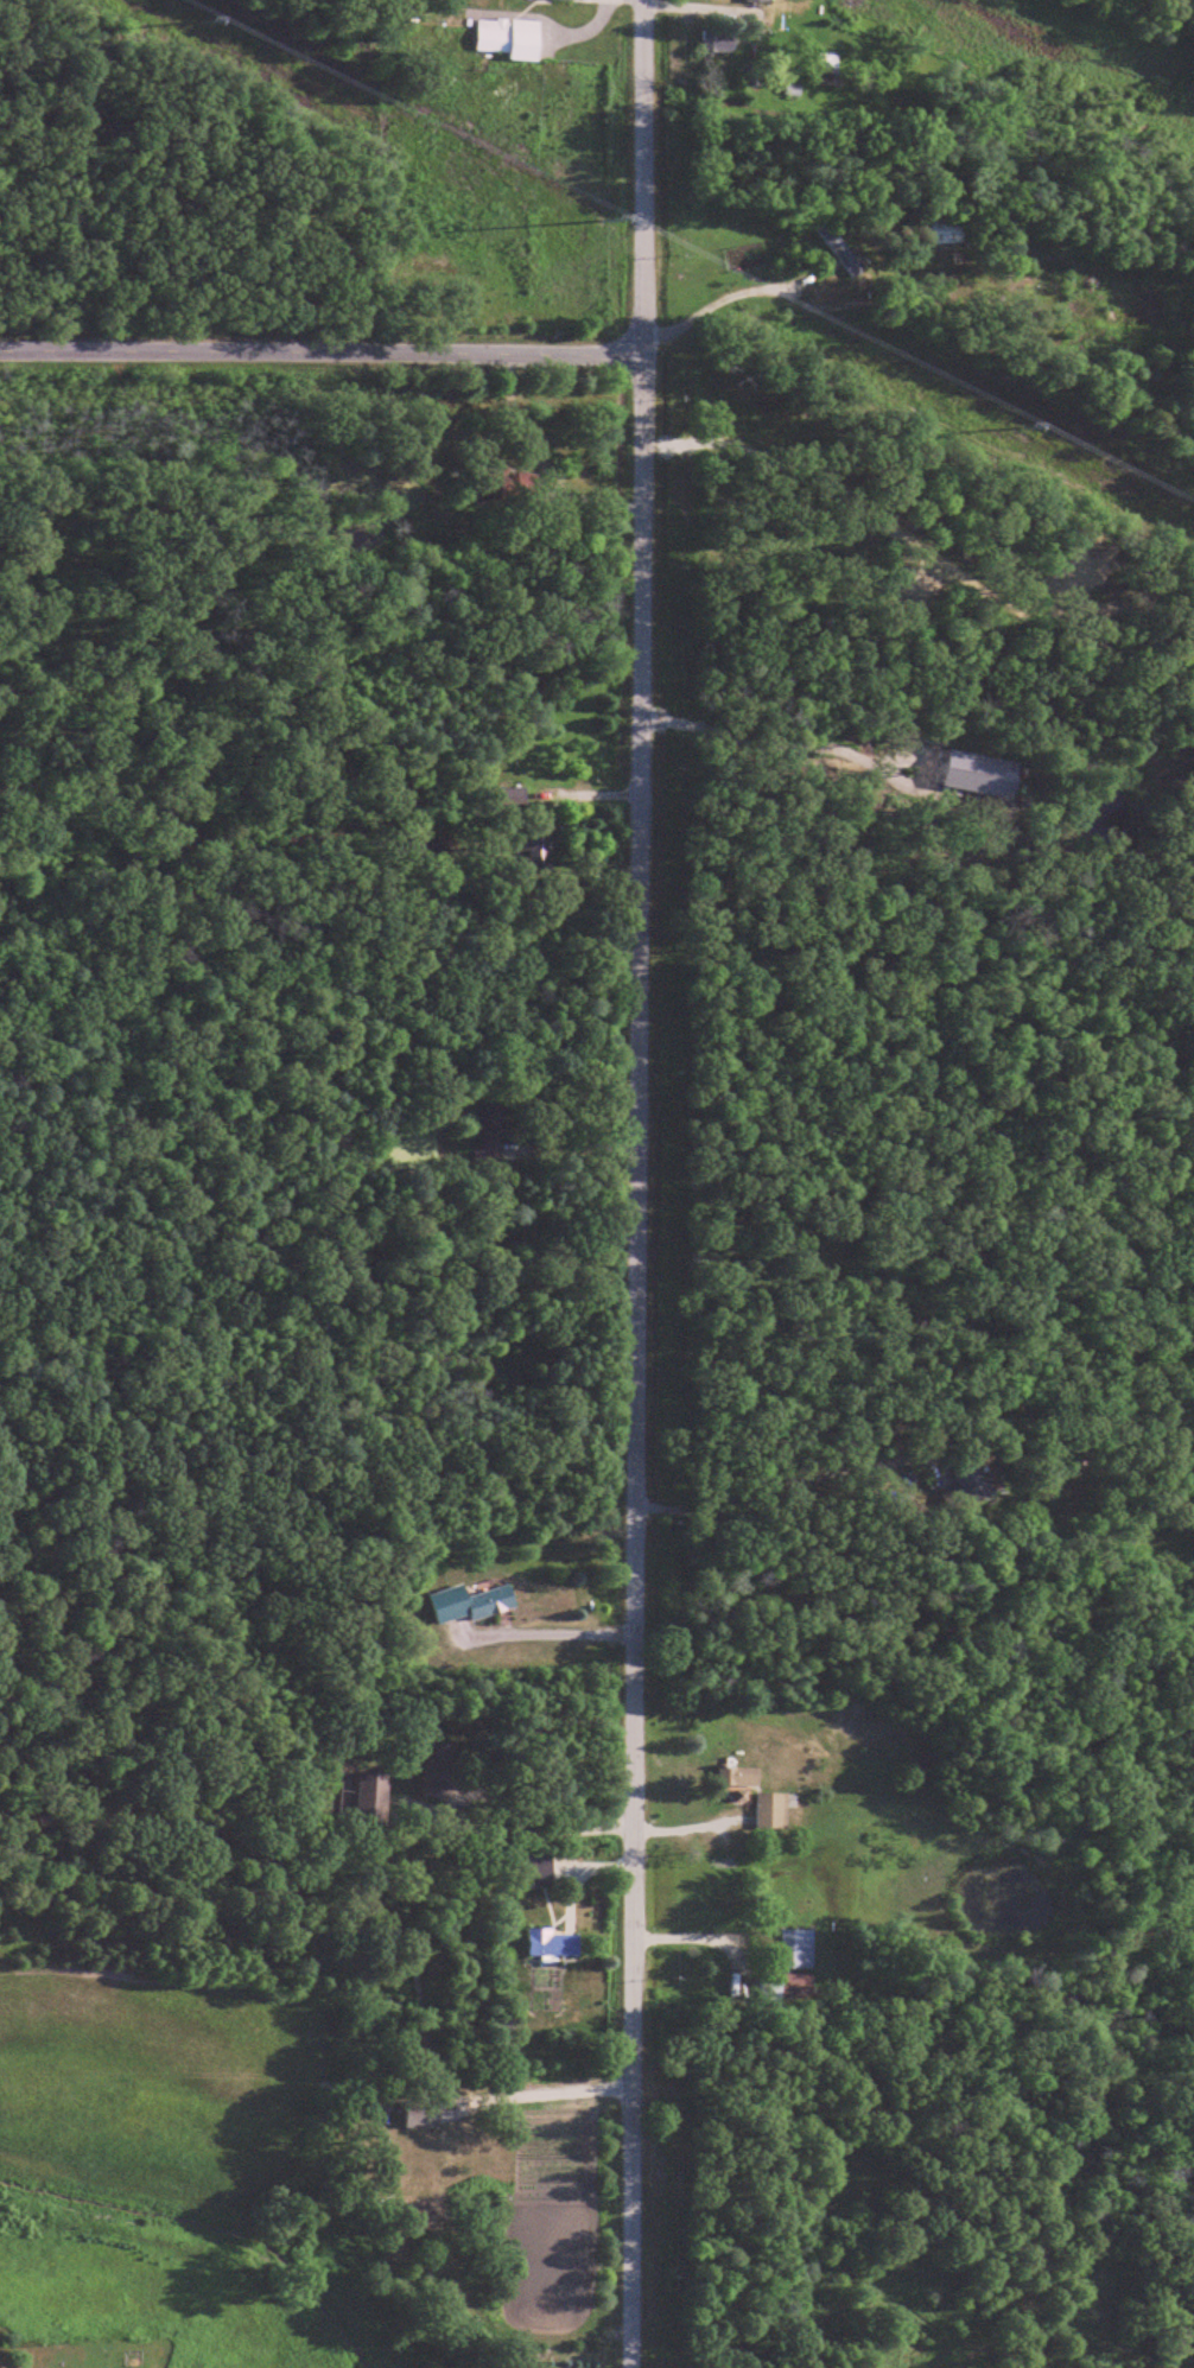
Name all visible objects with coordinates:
building: (760, 1)
power tower: (202, 13)
building: (510, 39)
building: (719, 44)
power tower: (601, 210)
building: (948, 233)
road: (716, 300)
road: (320, 356)
power tower: (1018, 420)
building: (525, 485)
building: (534, 855)
building: (497, 1135)
road: (636, 1183)
building: (974, 1487)
road: (767, 1493)
building: (470, 1605)
road: (550, 1632)
building: (440, 1773)
building: (739, 1779)
building: (773, 1812)
building: (534, 1871)
building: (509, 1932)
building: (553, 1944)
building: (796, 1951)
building: (546, 1975)
building: (785, 1988)
road: (541, 2091)
building: (430, 2141)

